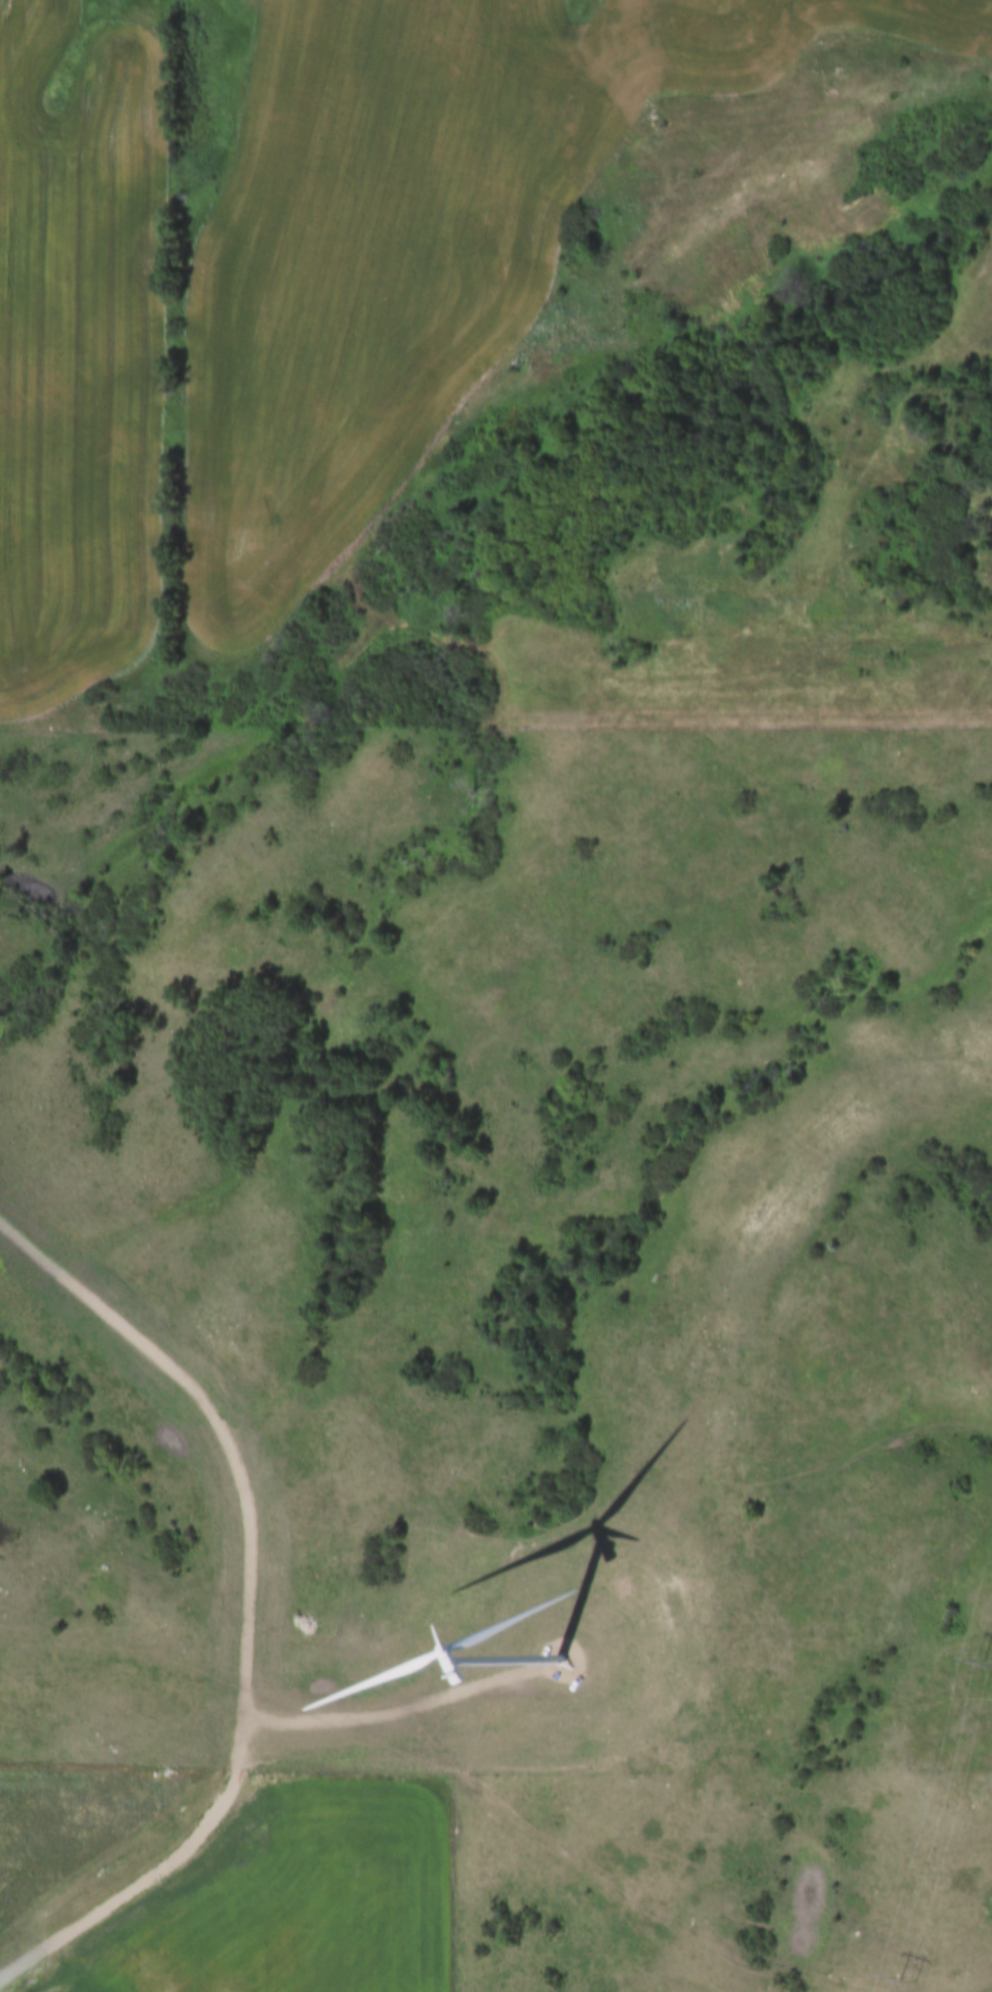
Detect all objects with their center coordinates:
wind turbine: (562, 1663)
power tower: (913, 1978)

